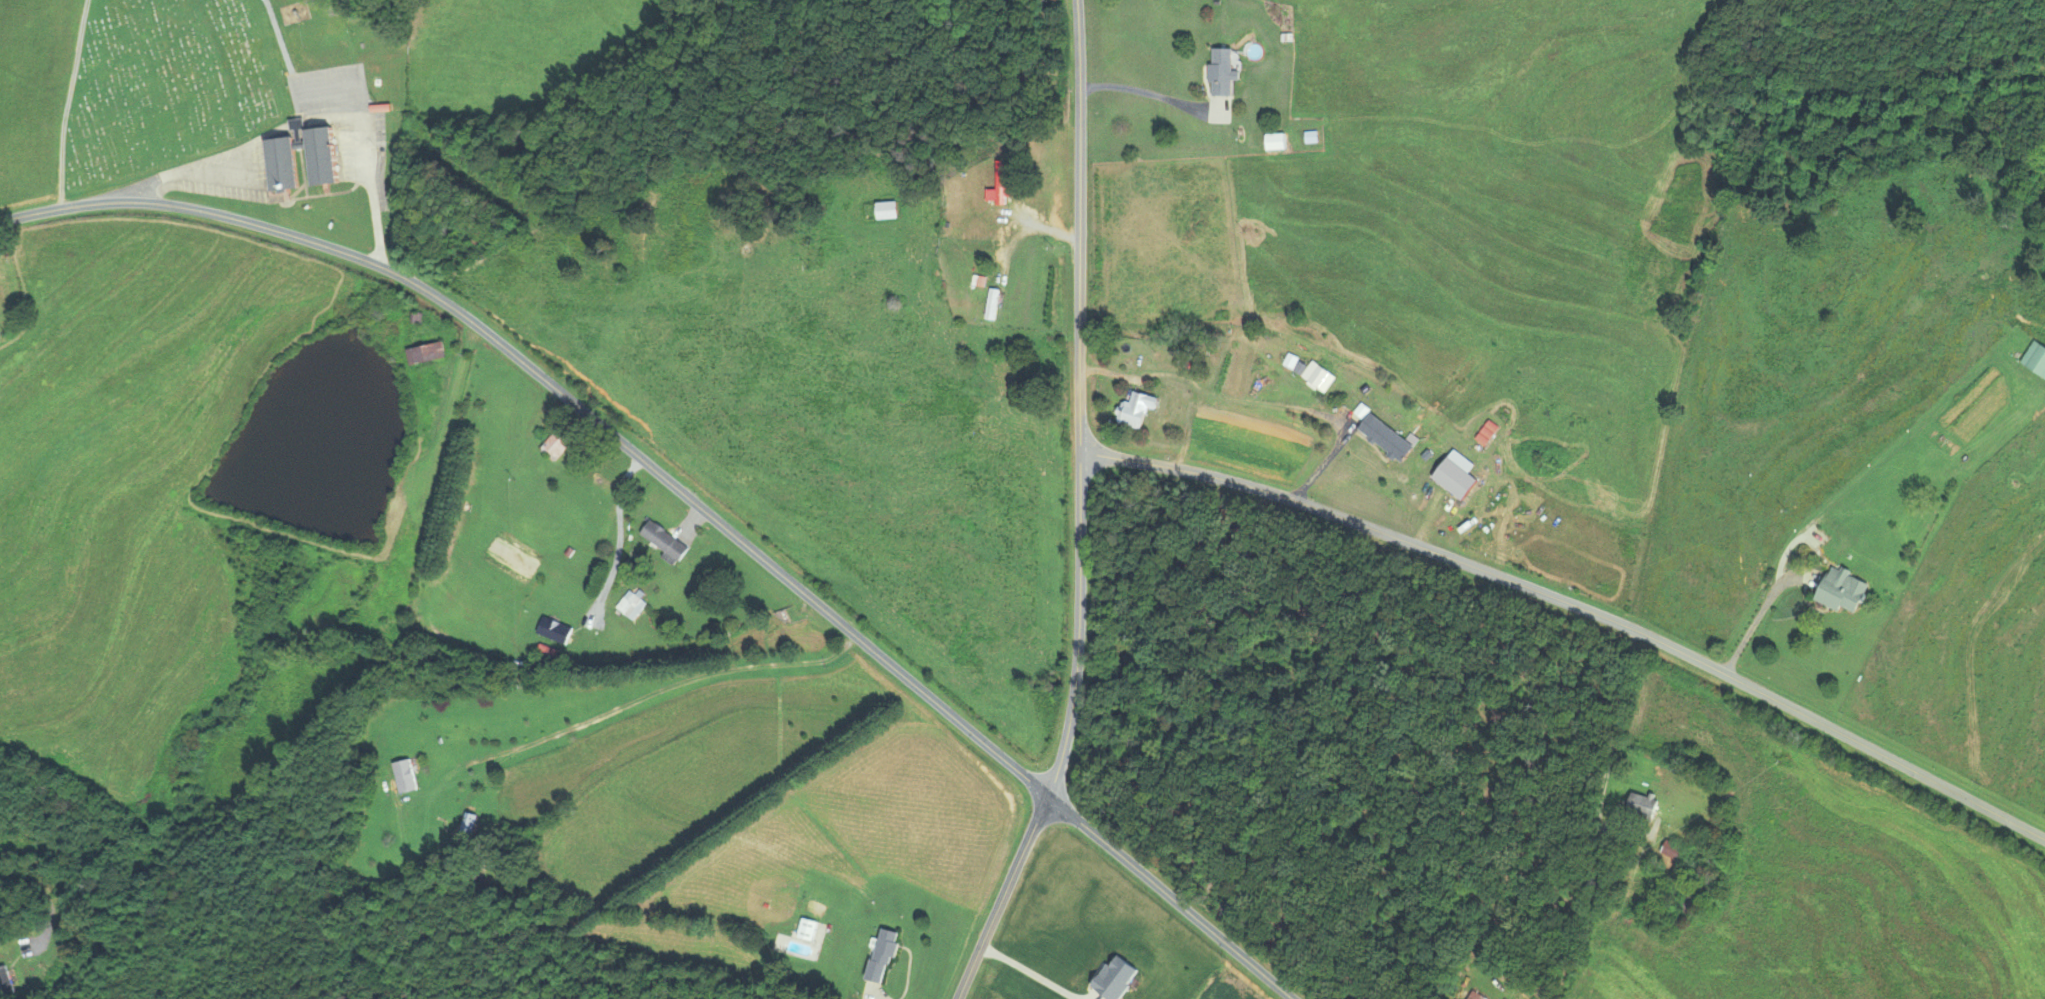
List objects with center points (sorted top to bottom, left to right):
building: (1222, 70)
park: (168, 86)
road: (1157, 93)
building: (1217, 111)
road: (288, 125)
building: (1274, 140)
building: (287, 164)
building: (1001, 182)
building: (889, 209)
building: (1, 272)
building: (991, 303)
building: (425, 352)
building: (2030, 362)
building: (1310, 369)
road: (48, 391)
road: (1080, 399)
road: (1256, 400)
building: (1139, 408)
road: (1189, 427)
building: (1391, 437)
building: (559, 441)
building: (1506, 445)
building: (1455, 478)
building: (592, 484)
road: (692, 499)
road: (619, 536)
building: (666, 541)
building: (1847, 589)
building: (628, 603)
road: (1576, 606)
road: (1757, 616)
building: (552, 628)
building: (544, 651)
road: (633, 700)
road: (1612, 752)
building: (405, 774)
building: (1643, 804)
building: (469, 821)
building: (1673, 850)
road: (1002, 896)
road: (45, 897)
building: (807, 927)
building: (885, 953)
road: (1031, 972)
building: (5, 981)

